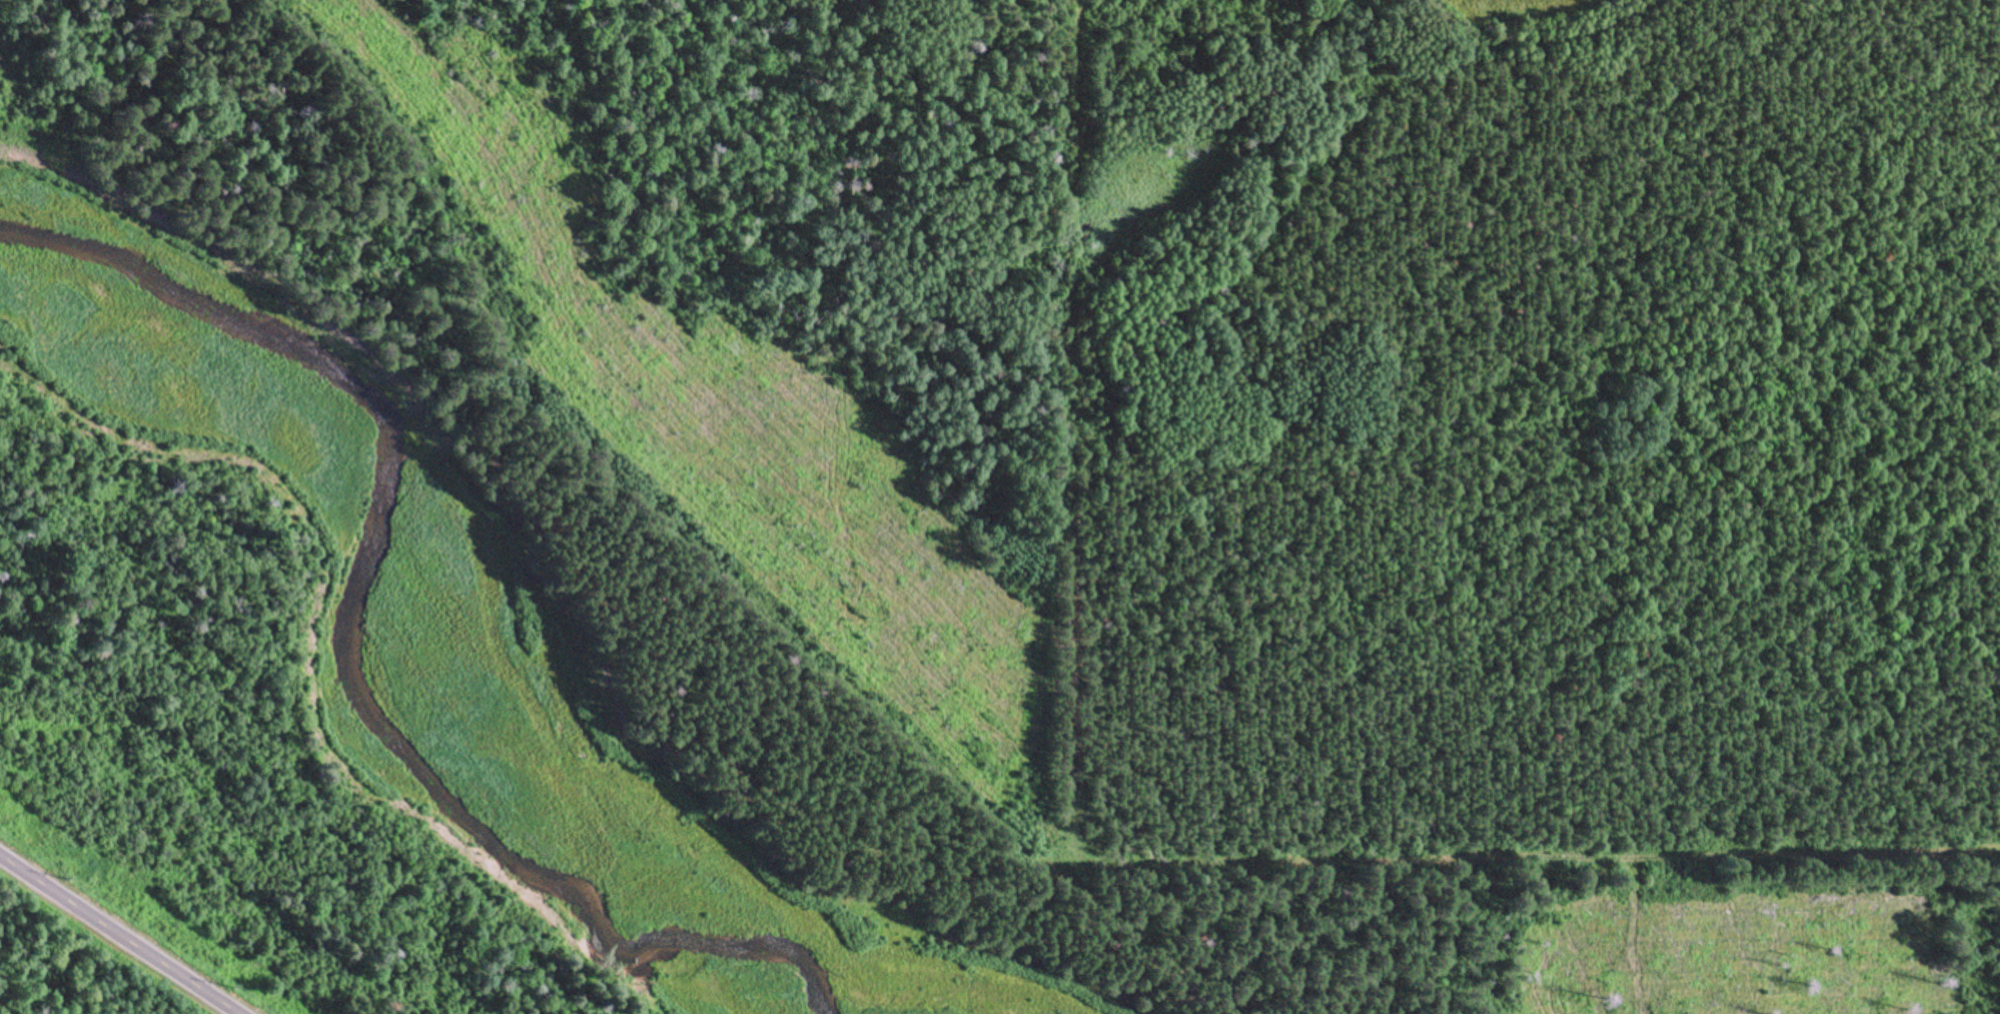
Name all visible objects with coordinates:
road: (1498, 41)
river: (453, 668)
road: (1108, 863)
road: (122, 935)

